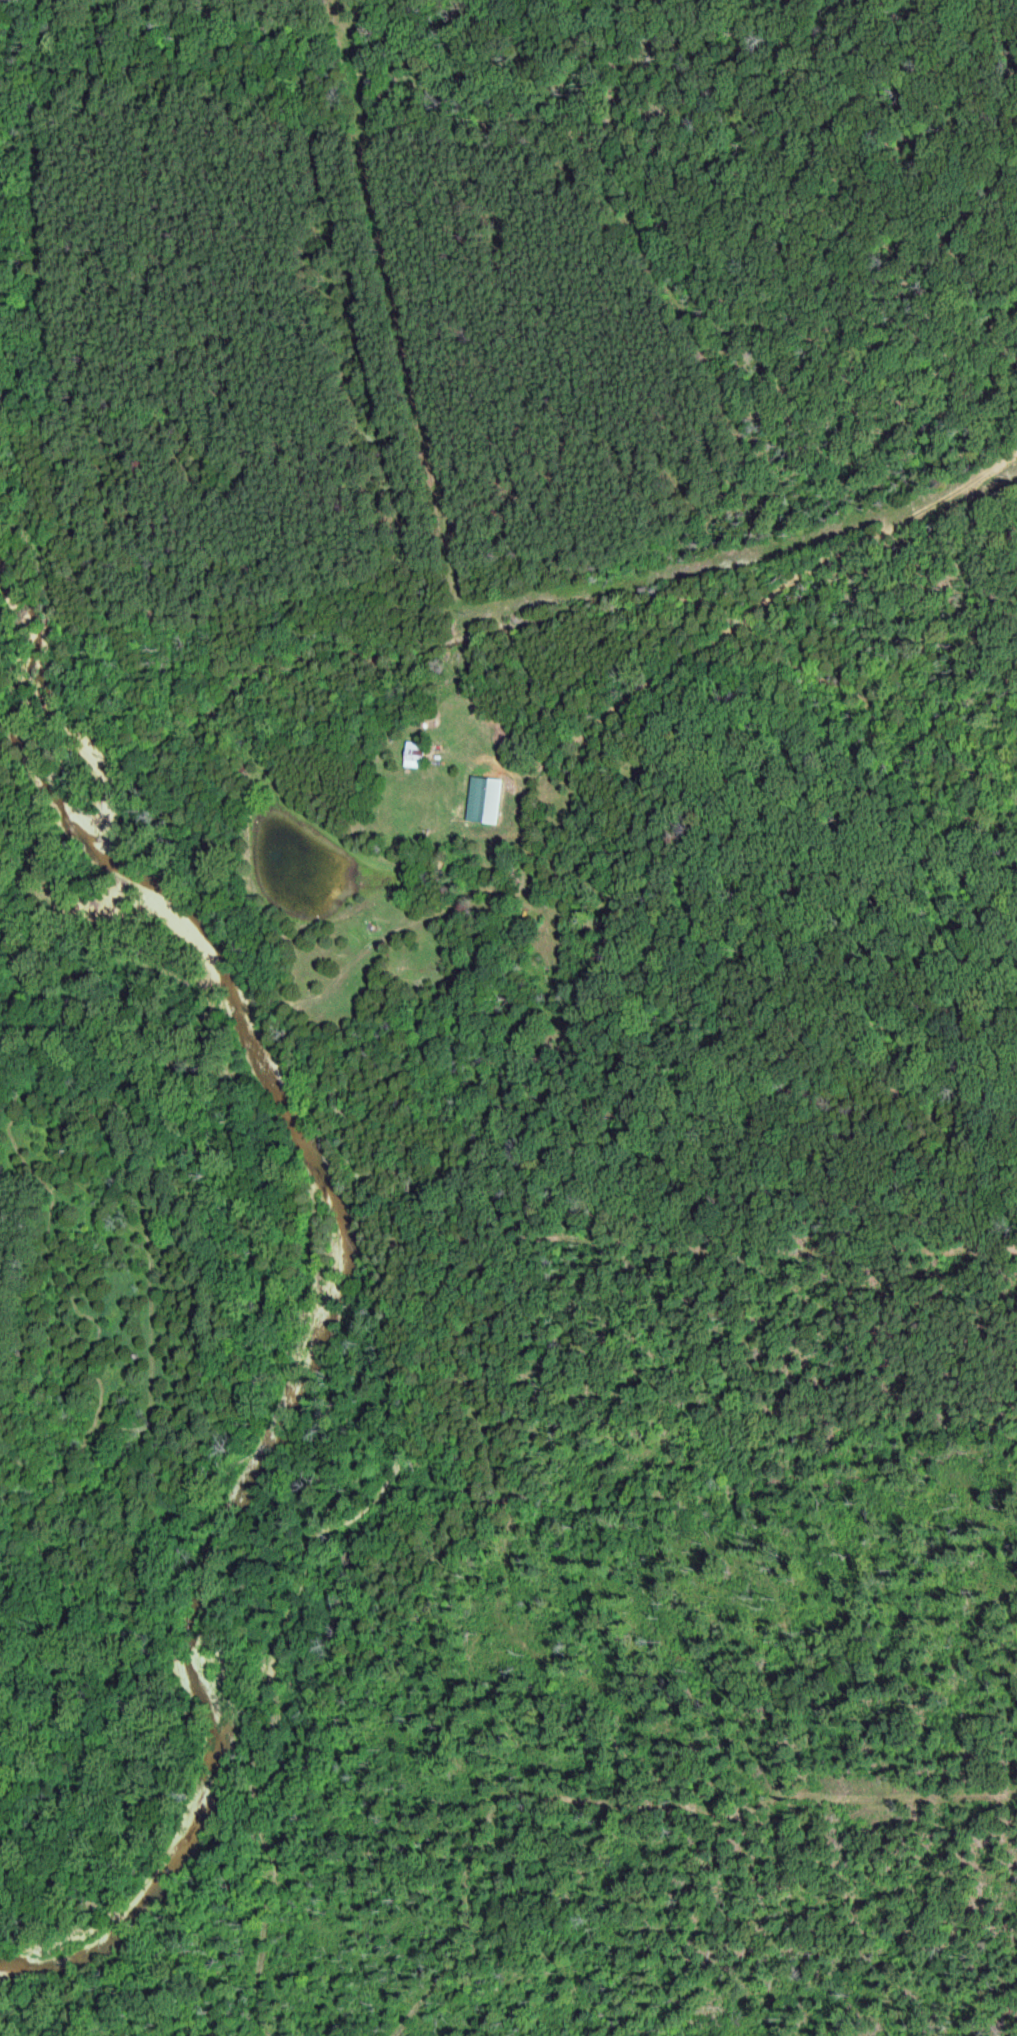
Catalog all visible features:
road: (738, 620)
building: (489, 797)

